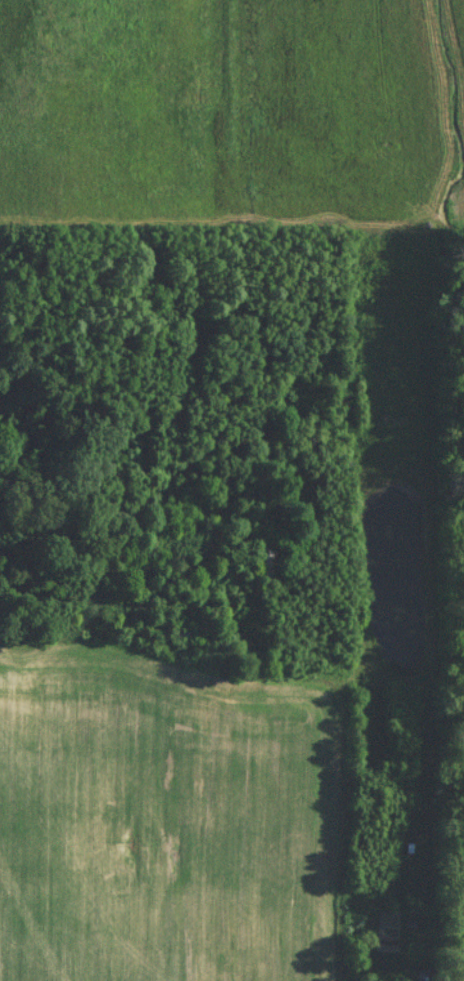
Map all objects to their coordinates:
building: (263, 567)

